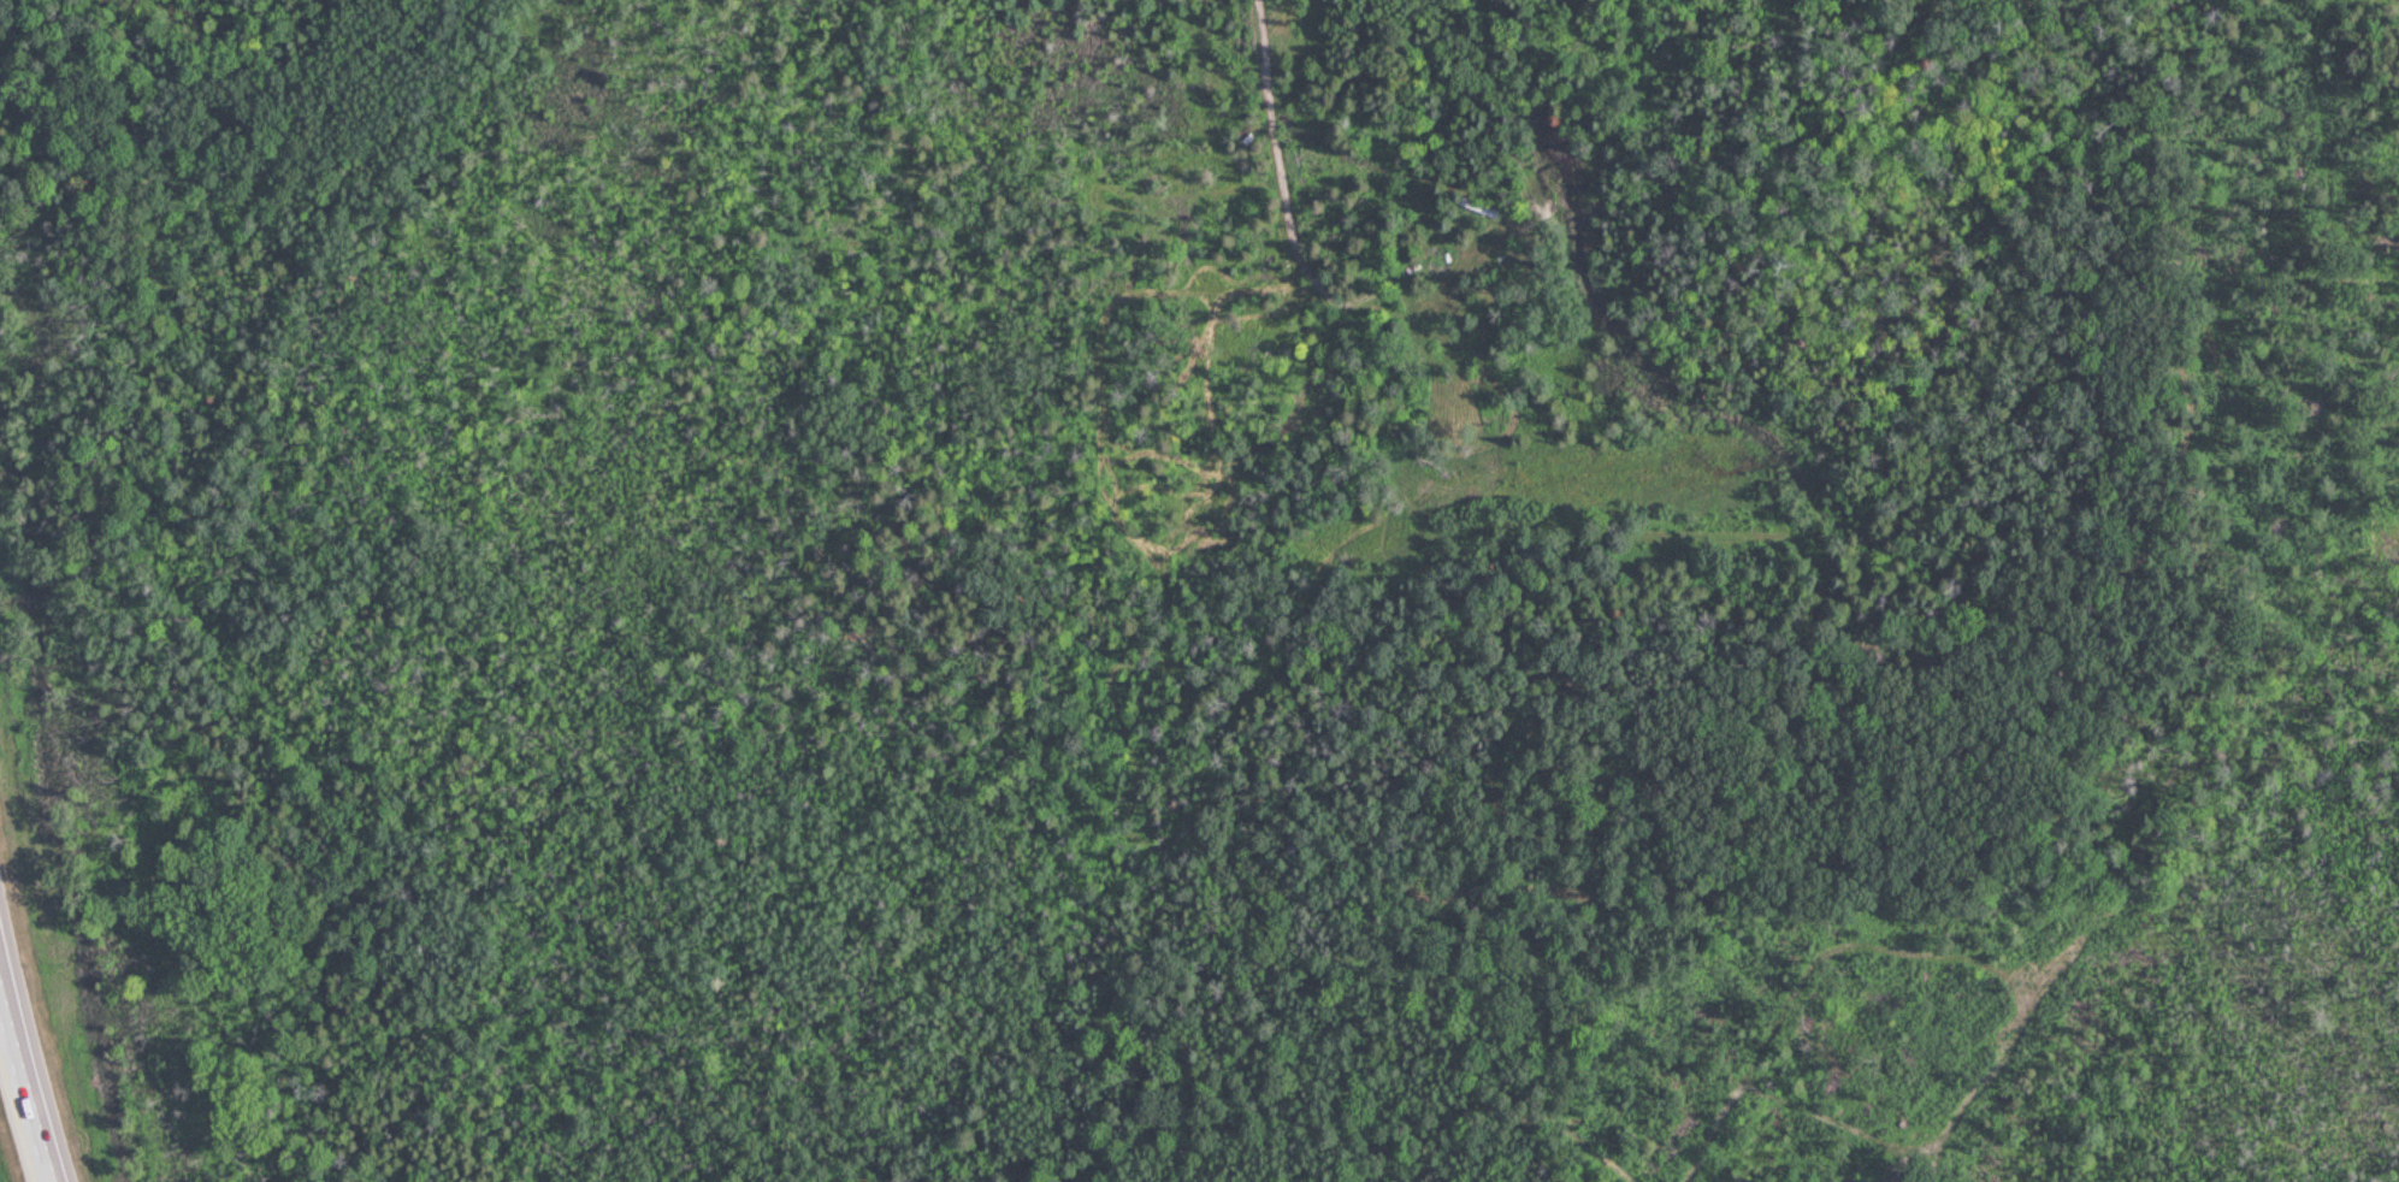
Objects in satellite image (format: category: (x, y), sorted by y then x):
building: (1484, 208)
road: (29, 1081)

